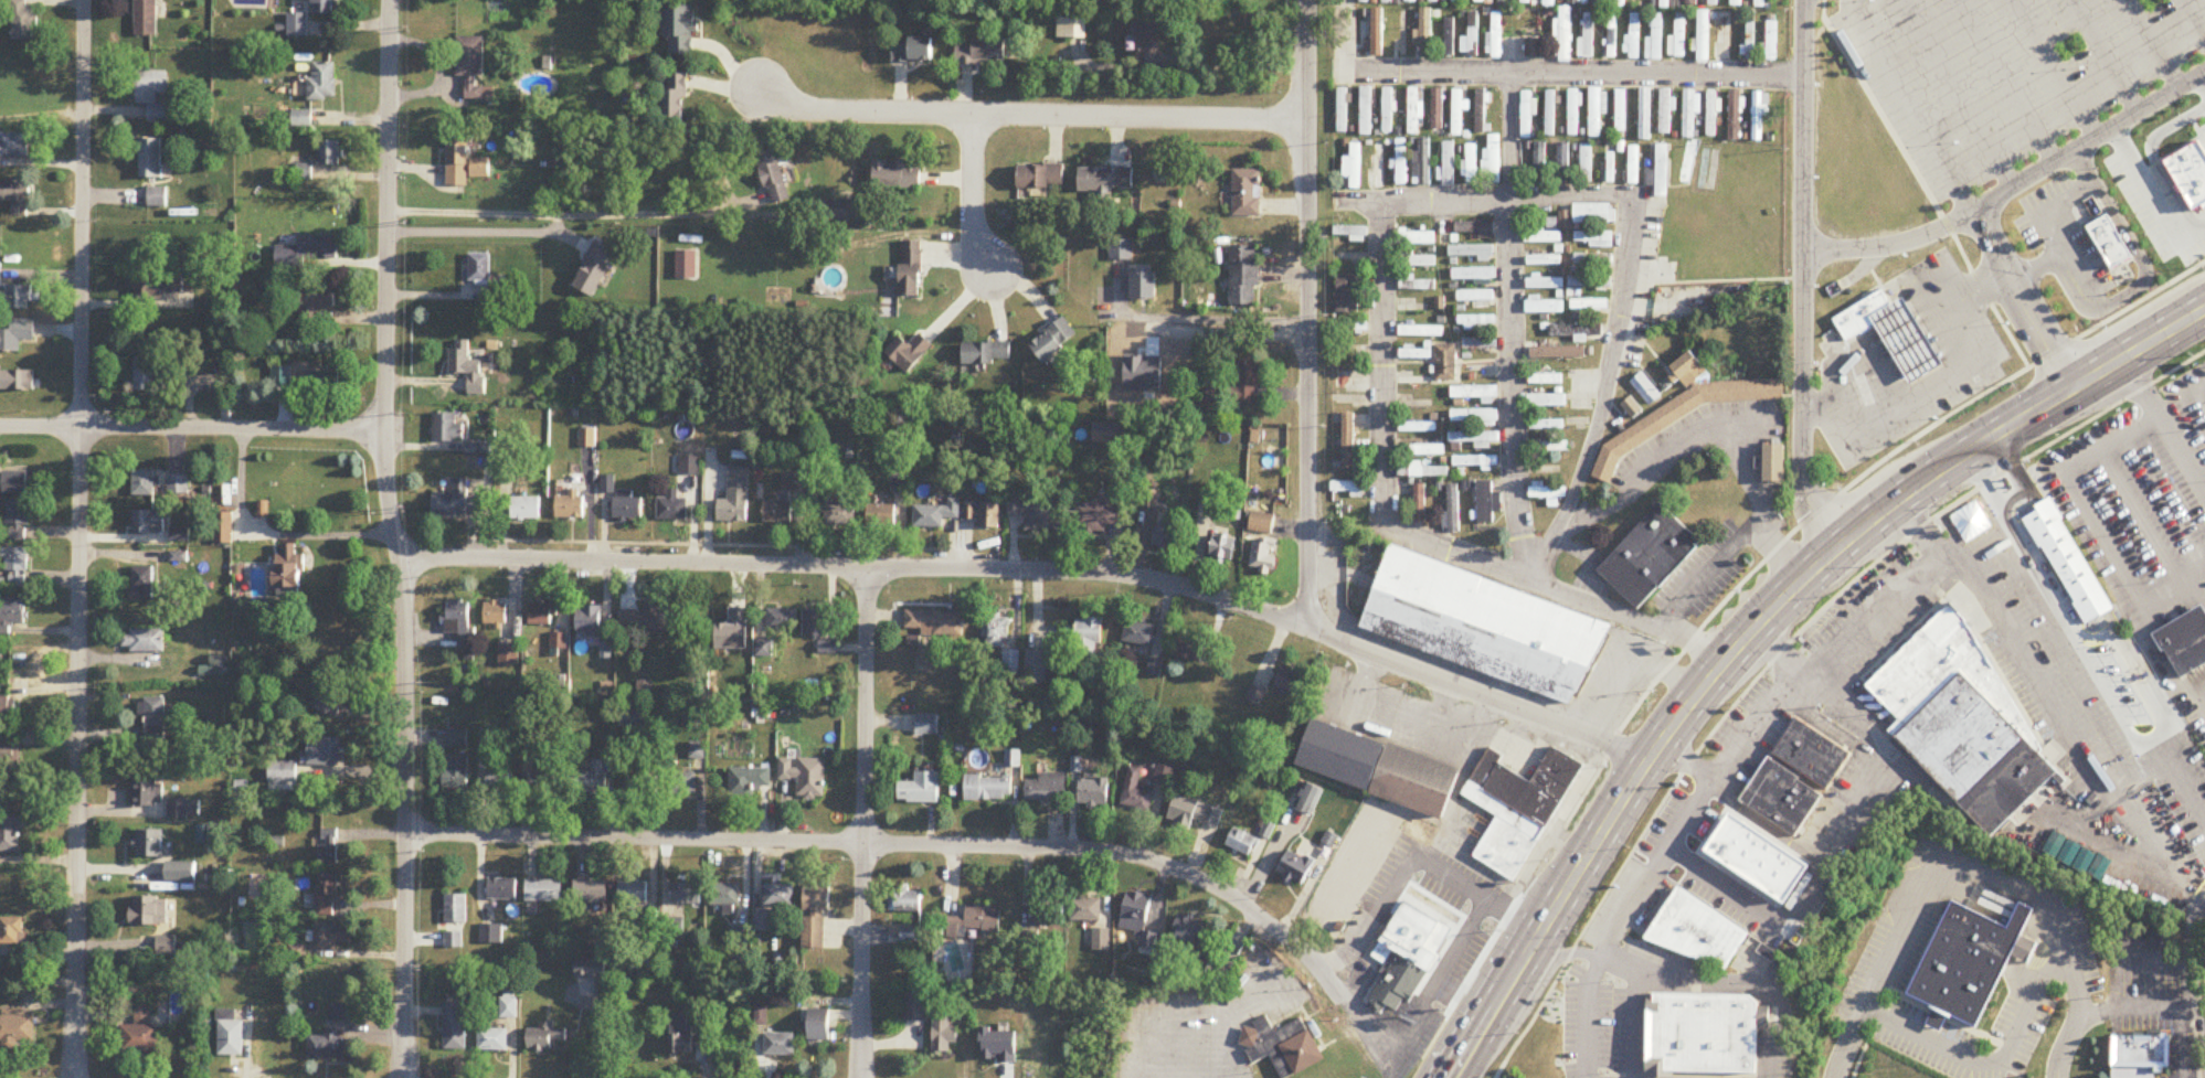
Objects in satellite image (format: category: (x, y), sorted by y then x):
building: (1364, 1)
building: (1410, 1)
building: (1433, 1)
building: (1456, 1)
building: (1480, 1)
building: (1572, 1)
building: (1711, 1)
building: (1388, 2)
building: (1525, 2)
building: (1690, 2)
building: (1737, 2)
building: (1549, 3)
building: (1620, 3)
building: (1760, 3)
building: (1667, 4)
building: (326, 7)
building: (146, 18)
road: (2193, 18)
building: (23, 21)
building: (297, 25)
building: (1071, 28)
building: (679, 30)
building: (1424, 33)
road: (1343, 35)
building: (1495, 35)
building: (1587, 35)
building: (1449, 36)
building: (1562, 36)
building: (1611, 36)
building: (1633, 36)
building: (1678, 36)
building: (1703, 36)
building: (1726, 36)
building: (1471, 38)
building: (1655, 40)
building: (1749, 40)
building: (1771, 41)
building: (1149, 42)
road: (2153, 44)
building: (1534, 49)
building: (913, 51)
building: (979, 52)
road: (2103, 56)
road: (1236, 64)
building: (474, 68)
road: (2054, 68)
road: (1572, 73)
building: (324, 82)
road: (2006, 82)
road: (2202, 82)
building: (153, 94)
road: (1957, 94)
building: (675, 99)
road: (1908, 107)
building: (1437, 109)
building: (1342, 110)
road: (1030, 111)
building: (1366, 111)
building: (1387, 111)
building: (1413, 111)
building: (1481, 111)
building: (1597, 111)
building: (1456, 113)
building: (1573, 113)
building: (1665, 113)
building: (1550, 114)
building: (1713, 114)
building: (1690, 115)
building: (1735, 115)
building: (1527, 116)
building: (1759, 116)
building: (14, 147)
building: (329, 153)
building: (150, 159)
building: (1492, 160)
building: (458, 162)
building: (1401, 162)
building: (1539, 162)
building: (1562, 162)
building: (1421, 163)
building: (1586, 163)
building: (1448, 164)
building: (1470, 164)
building: (1608, 164)
building: (1379, 166)
building: (1633, 166)
building: (1354, 167)
building: (480, 169)
building: (1707, 171)
building: (2191, 174)
building: (895, 177)
building: (1040, 177)
building: (774, 179)
building: (1105, 180)
road: (1921, 183)
road: (2012, 188)
road: (2151, 191)
road: (973, 192)
building: (1247, 194)
building: (15, 196)
building: (157, 198)
road: (1487, 198)
building: (841, 211)
road: (569, 214)
building: (1593, 215)
road: (2048, 221)
building: (1563, 222)
building: (1473, 228)
road: (474, 232)
building: (1349, 233)
building: (1536, 233)
building: (1416, 239)
building: (1593, 239)
building: (2110, 243)
building: (1471, 252)
building: (307, 255)
building: (1417, 260)
building: (1593, 260)
building: (1544, 262)
building: (480, 268)
building: (911, 270)
building: (1473, 275)
building: (0, 276)
building: (1244, 277)
road: (1802, 278)
building: (1589, 282)
road: (1713, 282)
building: (1545, 284)
building: (1417, 285)
road: (1982, 285)
building: (162, 287)
building: (1144, 287)
building: (1347, 295)
building: (318, 297)
building: (1475, 297)
building: (17, 298)
road: (2021, 300)
road: (1621, 301)
road: (1381, 303)
building: (1439, 303)
building: (1590, 306)
building: (1545, 307)
building: (1861, 313)
road: (1941, 313)
road: (1307, 317)
road: (1201, 320)
road: (1895, 321)
building: (1476, 323)
road: (1512, 327)
building: (1351, 328)
building: (1587, 329)
building: (1420, 331)
road: (1951, 332)
road: (1904, 335)
building: (17, 337)
building: (1906, 339)
building: (1054, 341)
building: (1480, 344)
building: (1577, 352)
building: (910, 353)
building: (987, 354)
road: (1915, 354)
building: (1416, 355)
road: (1858, 362)
building: (1445, 363)
building: (468, 367)
building: (146, 369)
building: (1488, 370)
building: (1689, 371)
building: (282, 377)
building: (1546, 380)
building: (17, 382)
building: (324, 382)
building: (1248, 383)
road: (1864, 384)
building: (1646, 391)
road: (2197, 392)
building: (1475, 394)
road: (1911, 395)
building: (1546, 401)
building: (1632, 408)
road: (1815, 408)
building: (1683, 417)
building: (1474, 418)
road: (2163, 424)
building: (1546, 426)
building: (448, 427)
building: (1418, 427)
road: (192, 428)
building: (1475, 439)
building: (1549, 448)
road: (1681, 448)
building: (1421, 450)
building: (1475, 462)
building: (690, 465)
building: (1777, 466)
building: (1423, 471)
building: (15, 483)
building: (144, 484)
building: (178, 485)
building: (1349, 489)
building: (1546, 492)
road: (1837, 492)
building: (735, 498)
road: (1571, 498)
building: (623, 501)
building: (458, 502)
building: (1419, 503)
building: (1487, 504)
road: (2161, 504)
building: (571, 505)
building: (671, 506)
building: (526, 509)
building: (1452, 510)
building: (777, 512)
building: (1037, 513)
building: (984, 514)
building: (840, 515)
building: (936, 515)
building: (882, 516)
road: (2140, 516)
building: (1092, 517)
road: (2093, 520)
building: (18, 521)
building: (149, 522)
building: (1262, 523)
building: (223, 529)
road: (1403, 532)
road: (269, 534)
building: (1165, 535)
road: (78, 538)
road: (395, 538)
building: (1223, 547)
road: (1728, 548)
building: (1649, 557)
road: (2031, 559)
building: (1262, 561)
building: (2067, 561)
building: (17, 566)
building: (290, 567)
road: (1035, 570)
building: (145, 583)
road: (2198, 588)
building: (13, 612)
building: (495, 612)
building: (542, 613)
road: (1625, 617)
building: (590, 618)
building: (653, 618)
building: (781, 621)
road: (1875, 621)
building: (934, 622)
building: (1481, 622)
building: (459, 623)
building: (815, 623)
road: (1756, 623)
building: (996, 629)
building: (1138, 633)
building: (558, 639)
building: (145, 640)
building: (1089, 641)
building: (2185, 644)
road: (1781, 647)
building: (1190, 648)
building: (509, 653)
road: (1624, 658)
building: (1010, 663)
building: (1038, 666)
building: (1292, 682)
road: (2201, 685)
road: (2045, 696)
building: (328, 698)
building: (7, 707)
building: (634, 717)
building: (155, 719)
building: (926, 725)
building: (1964, 726)
road: (1828, 730)
building: (488, 738)
building: (457, 739)
building: (9, 751)
building: (1810, 751)
building: (324, 753)
road: (1684, 760)
building: (1379, 766)
building: (455, 772)
building: (282, 773)
building: (805, 776)
building: (1164, 776)
building: (542, 780)
building: (591, 780)
building: (497, 781)
building: (749, 781)
building: (640, 785)
building: (683, 785)
building: (988, 789)
building: (1045, 789)
building: (921, 790)
building: (1094, 793)
building: (1136, 793)
building: (145, 794)
building: (1779, 794)
building: (1518, 808)
building: (182, 810)
road: (1692, 811)
building: (1194, 813)
road: (1847, 815)
road: (861, 822)
road: (1763, 823)
building: (10, 834)
road: (901, 842)
building: (1242, 842)
building: (149, 844)
building: (328, 847)
road: (1410, 850)
building: (1753, 850)
road: (1937, 856)
building: (1295, 867)
road: (1534, 874)
building: (181, 882)
building: (501, 889)
building: (543, 892)
building: (591, 892)
building: (633, 893)
building: (686, 894)
building: (724, 895)
building: (326, 896)
building: (777, 896)
building: (907, 900)
building: (456, 909)
building: (1086, 910)
building: (149, 911)
building: (816, 916)
building: (1048, 916)
building: (1138, 919)
building: (762, 922)
building: (975, 922)
building: (1452, 927)
building: (1693, 928)
building: (1419, 929)
building: (1189, 930)
building: (11, 931)
road: (1464, 931)
building: (490, 935)
building: (332, 937)
building: (911, 937)
building: (454, 940)
building: (1101, 940)
building: (167, 947)
building: (2022, 947)
road: (1410, 949)
road: (1562, 953)
road: (2128, 958)
building: (1964, 960)
building: (1200, 962)
building: (591, 968)
road: (2193, 978)
building: (1396, 981)
road: (1673, 983)
road: (2184, 983)
road: (1649, 986)
road: (1459, 994)
road: (1753, 994)
building: (509, 1002)
road: (1350, 1003)
building: (914, 1006)
road: (2105, 1008)
road: (1769, 1012)
road: (1761, 1017)
building: (1763, 1017)
building: (1934, 1017)
building: (819, 1025)
road: (1634, 1026)
building: (455, 1027)
building: (17, 1029)
building: (943, 1032)
building: (1704, 1033)
building: (139, 1035)
building: (231, 1037)
building: (687, 1037)
building: (547, 1038)
building: (492, 1040)
road: (1762, 1040)
road: (2181, 1043)
building: (778, 1044)
building: (1650, 1044)
building: (327, 1045)
building: (1282, 1046)
road: (1647, 1046)
building: (2140, 1049)
road: (1406, 1052)
road: (1994, 1061)
road: (1392, 1071)
building: (2131, 1071)
road: (1649, 1072)
road: (1719, 1076)

